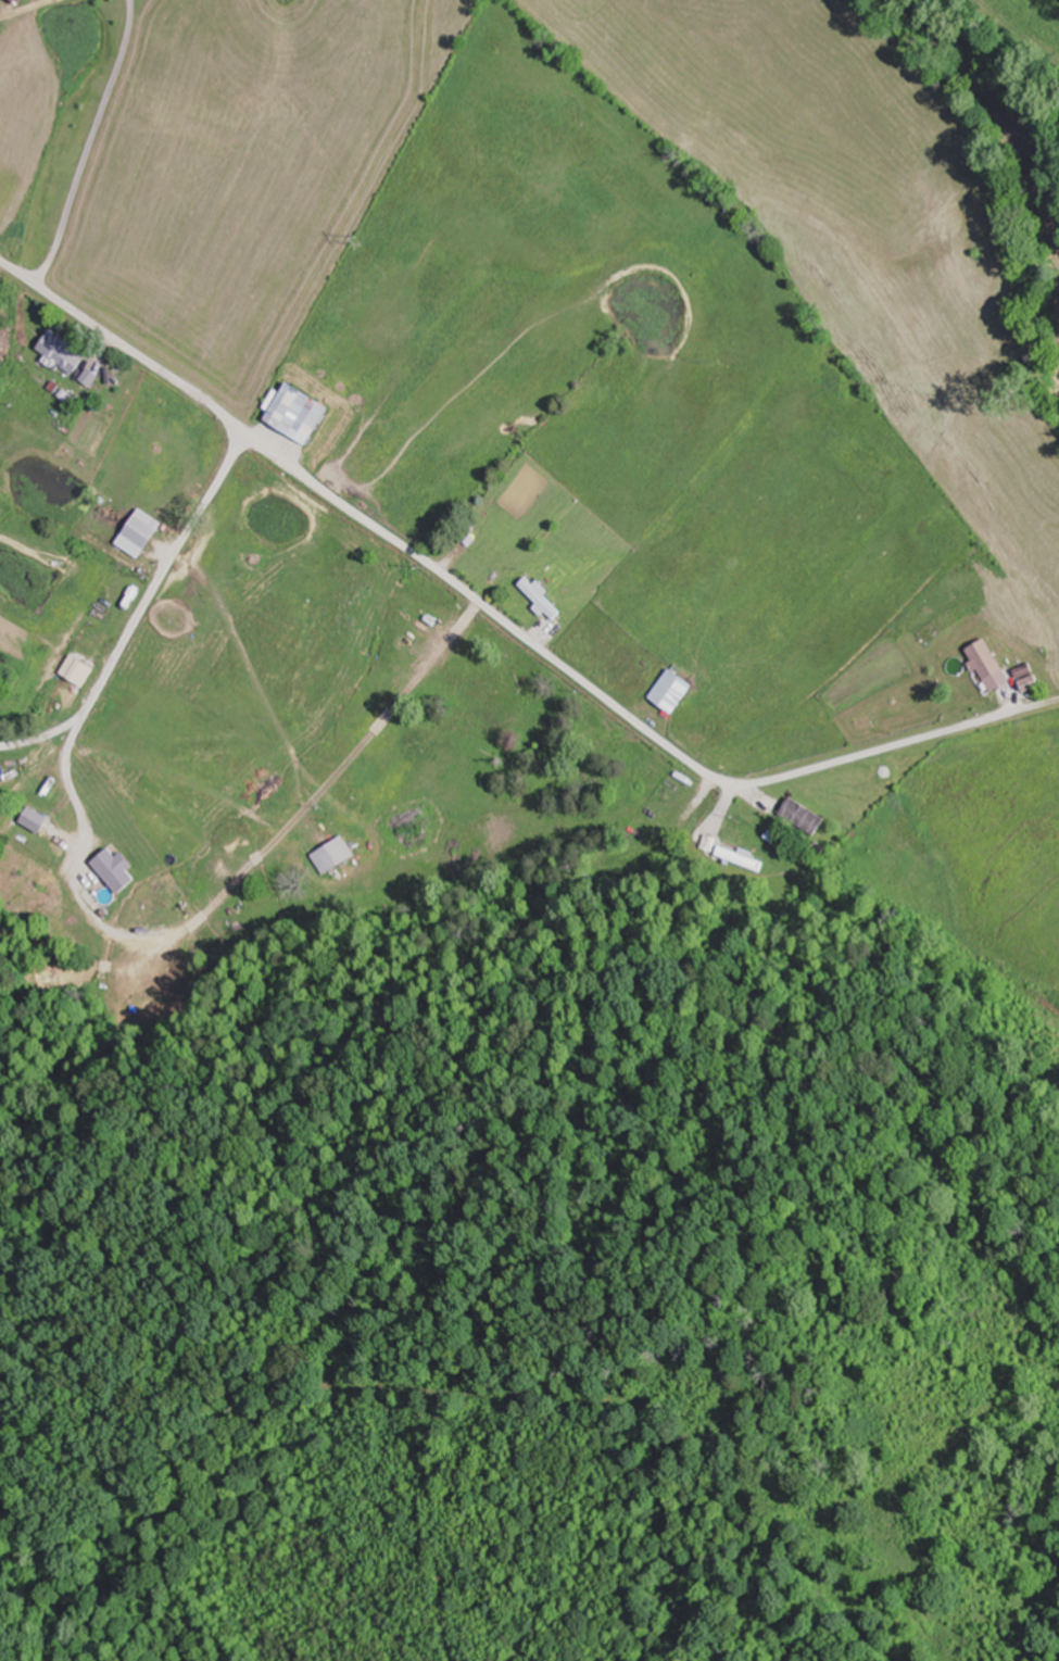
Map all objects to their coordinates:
building: (23, 1)
road: (1019, 28)
river: (992, 97)
building: (66, 357)
building: (300, 413)
building: (141, 532)
road: (162, 579)
building: (542, 597)
road: (504, 619)
building: (991, 665)
building: (1032, 683)
building: (675, 690)
road: (39, 764)
building: (20, 766)
building: (805, 816)
road: (37, 838)
building: (335, 856)
building: (741, 857)
building: (93, 892)
road: (10, 1229)

